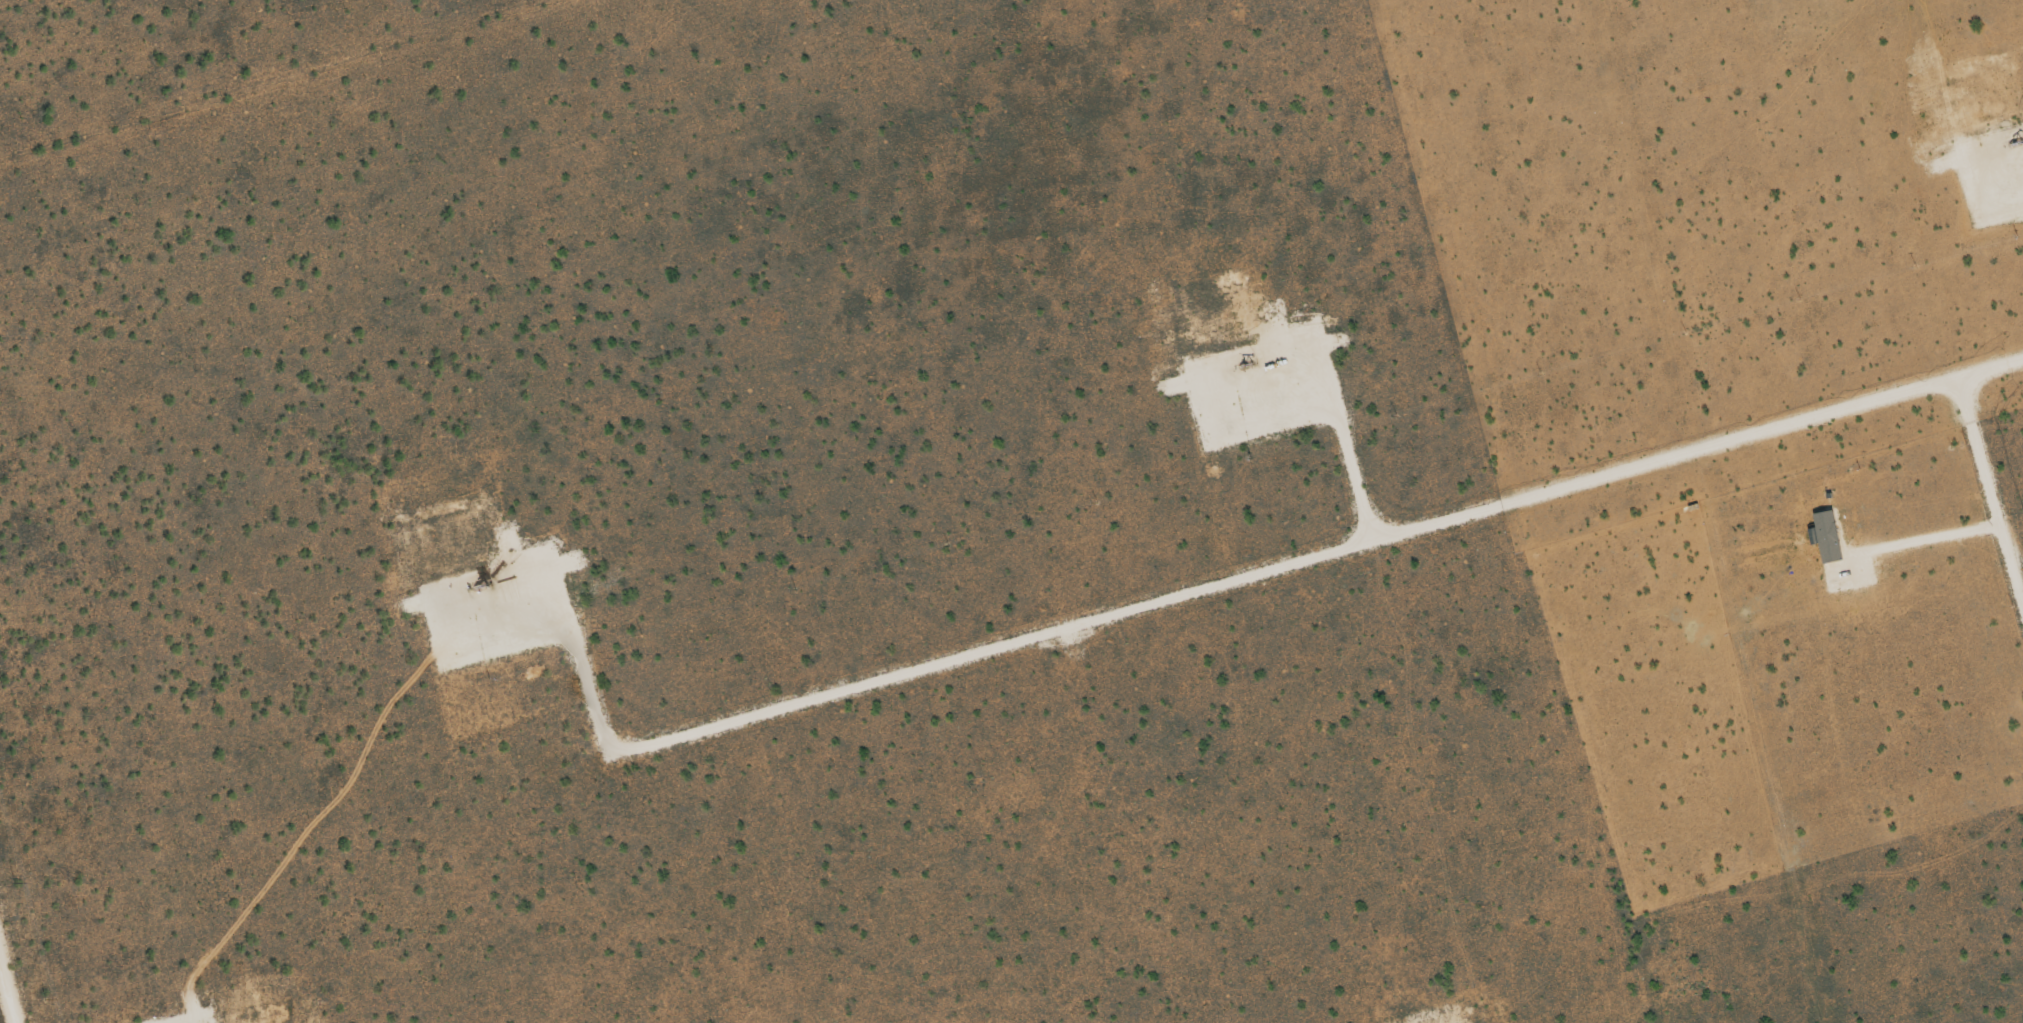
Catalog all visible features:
road: (9, 986)

